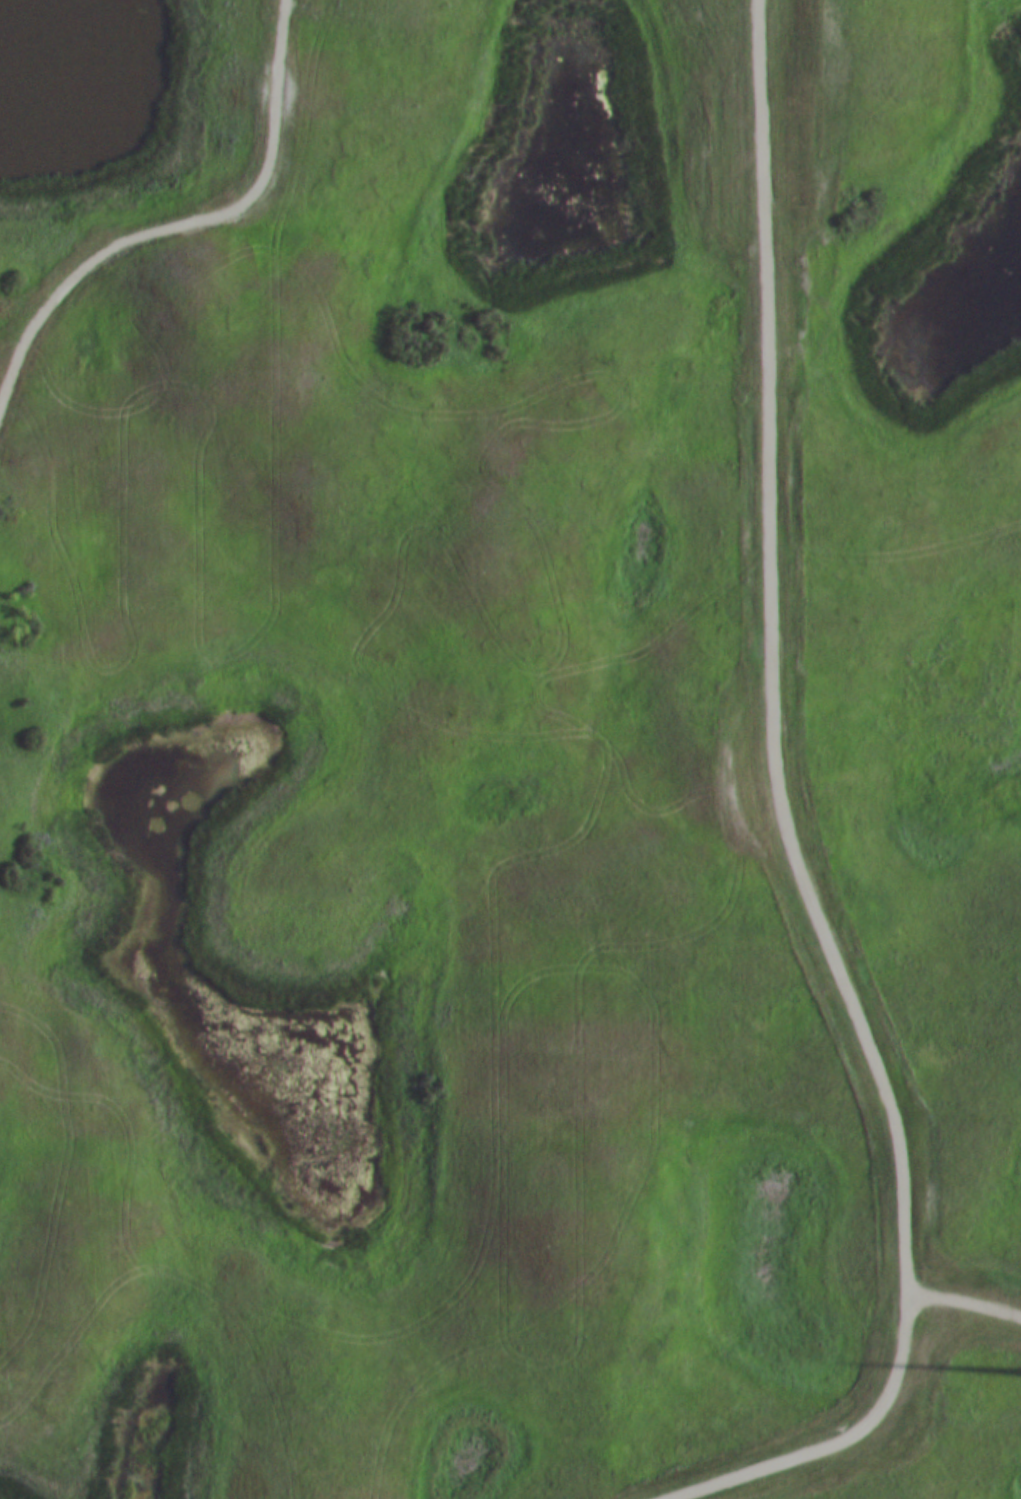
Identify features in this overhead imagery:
road: (791, 853)
road: (959, 1306)

